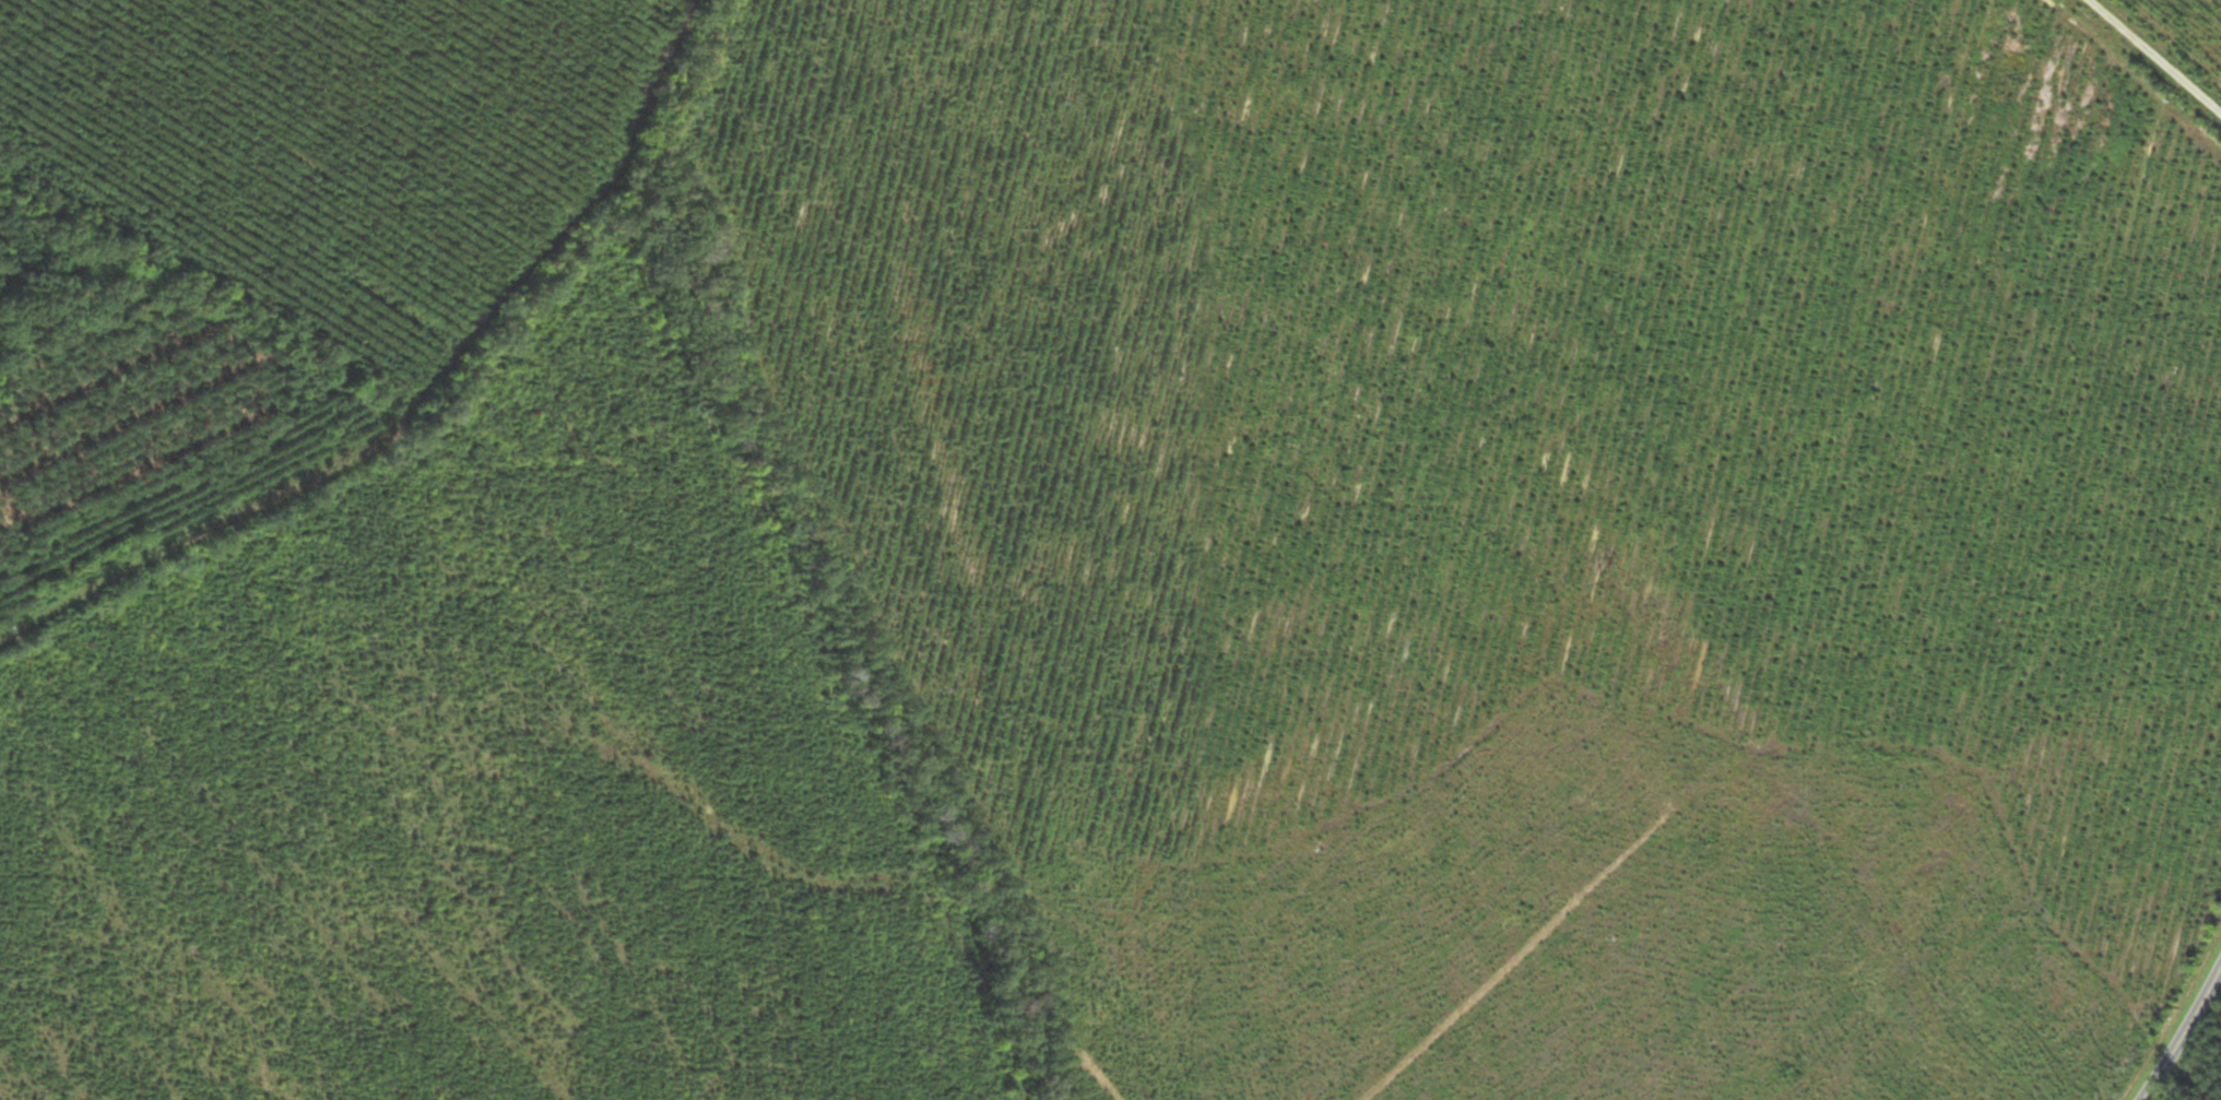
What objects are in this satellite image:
road: (2182, 1033)

